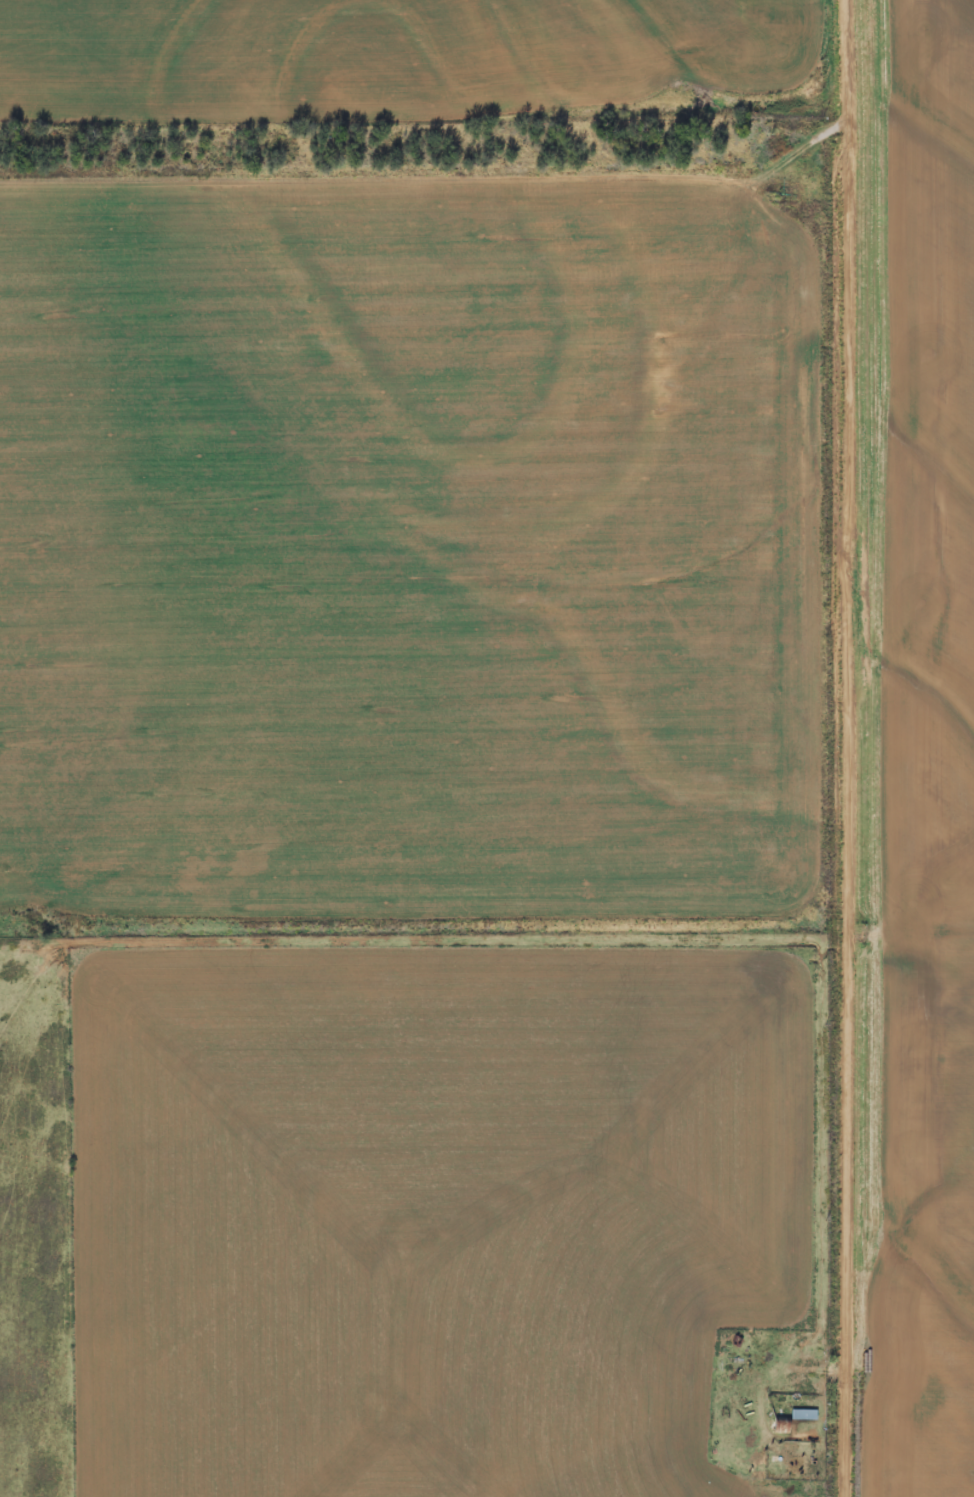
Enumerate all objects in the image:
road: (802, 748)
building: (781, 1427)

